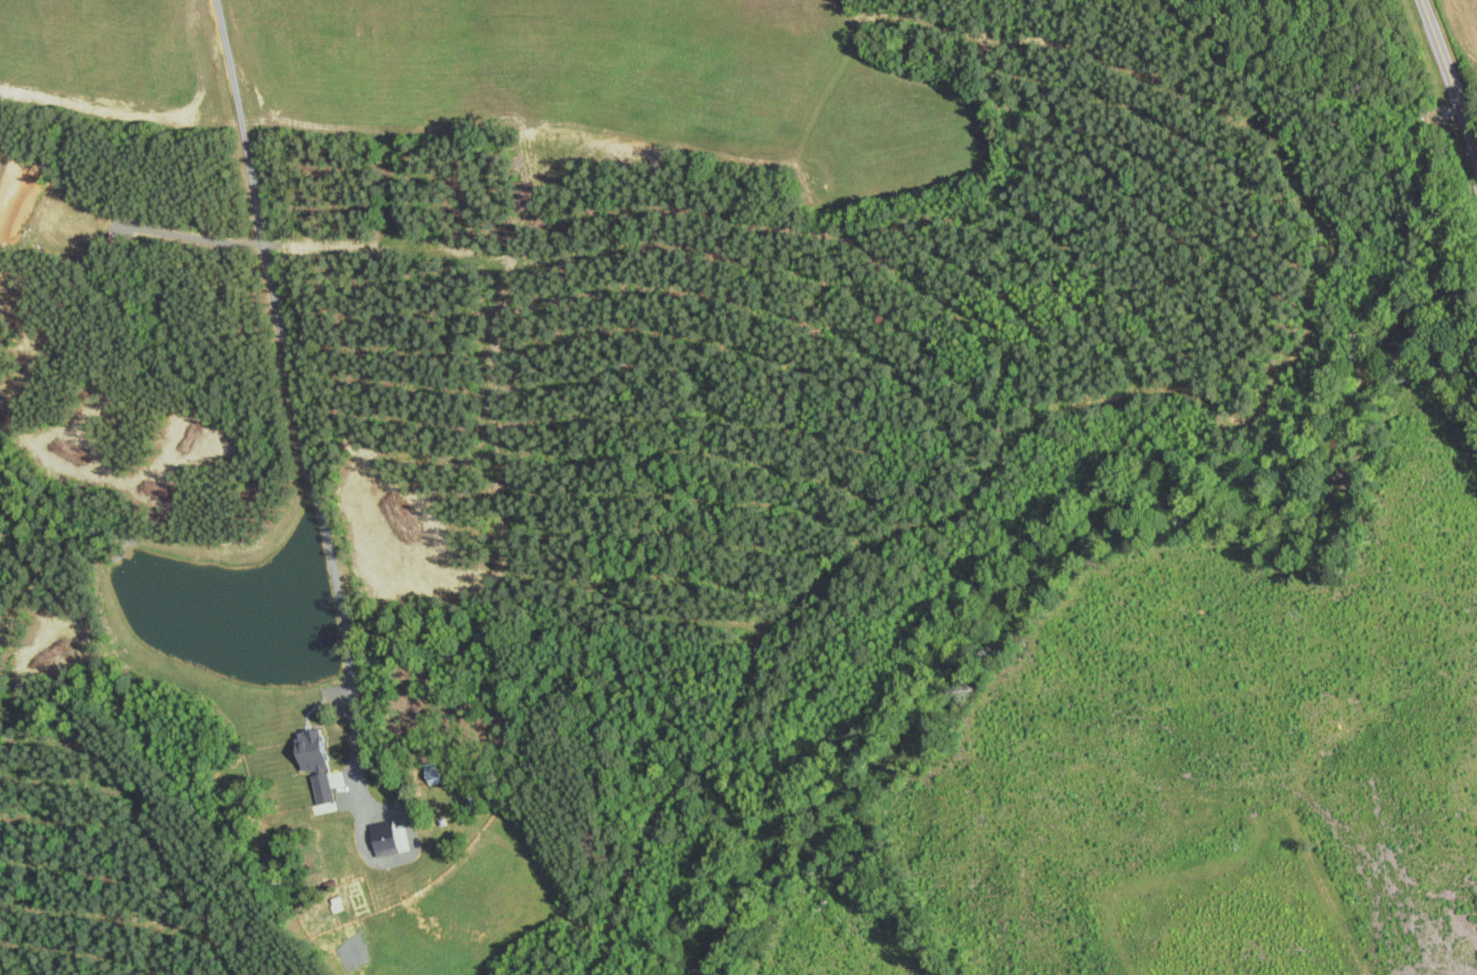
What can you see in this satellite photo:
road: (1449, 73)
road: (300, 484)
building: (265, 743)
building: (434, 773)
building: (474, 801)

